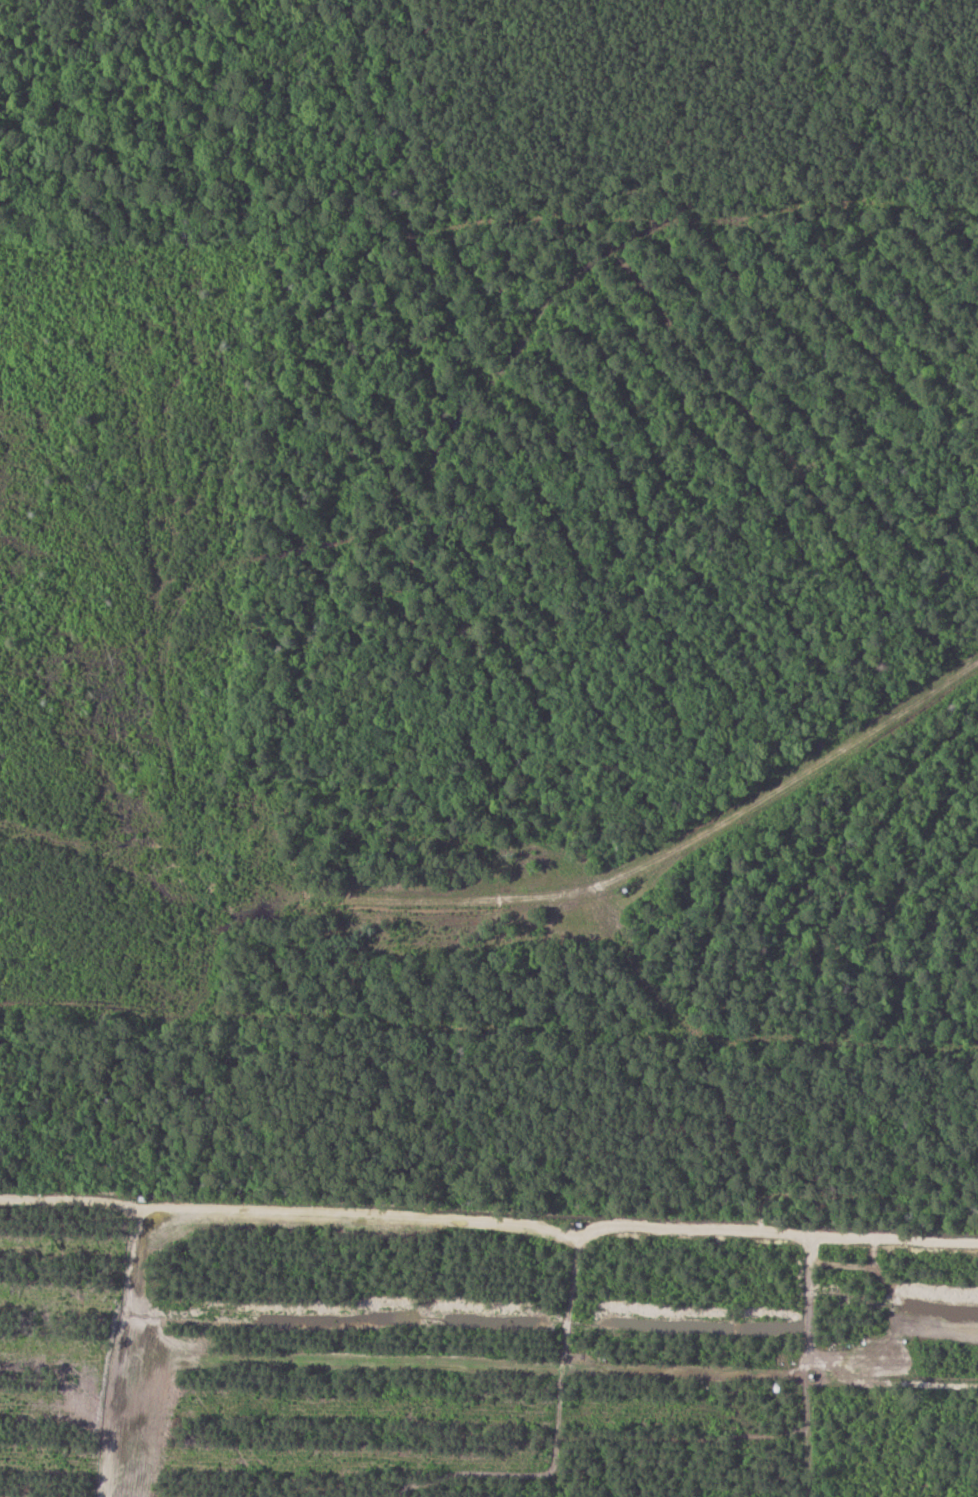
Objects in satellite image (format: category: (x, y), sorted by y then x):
road: (730, 810)
road: (913, 1378)

